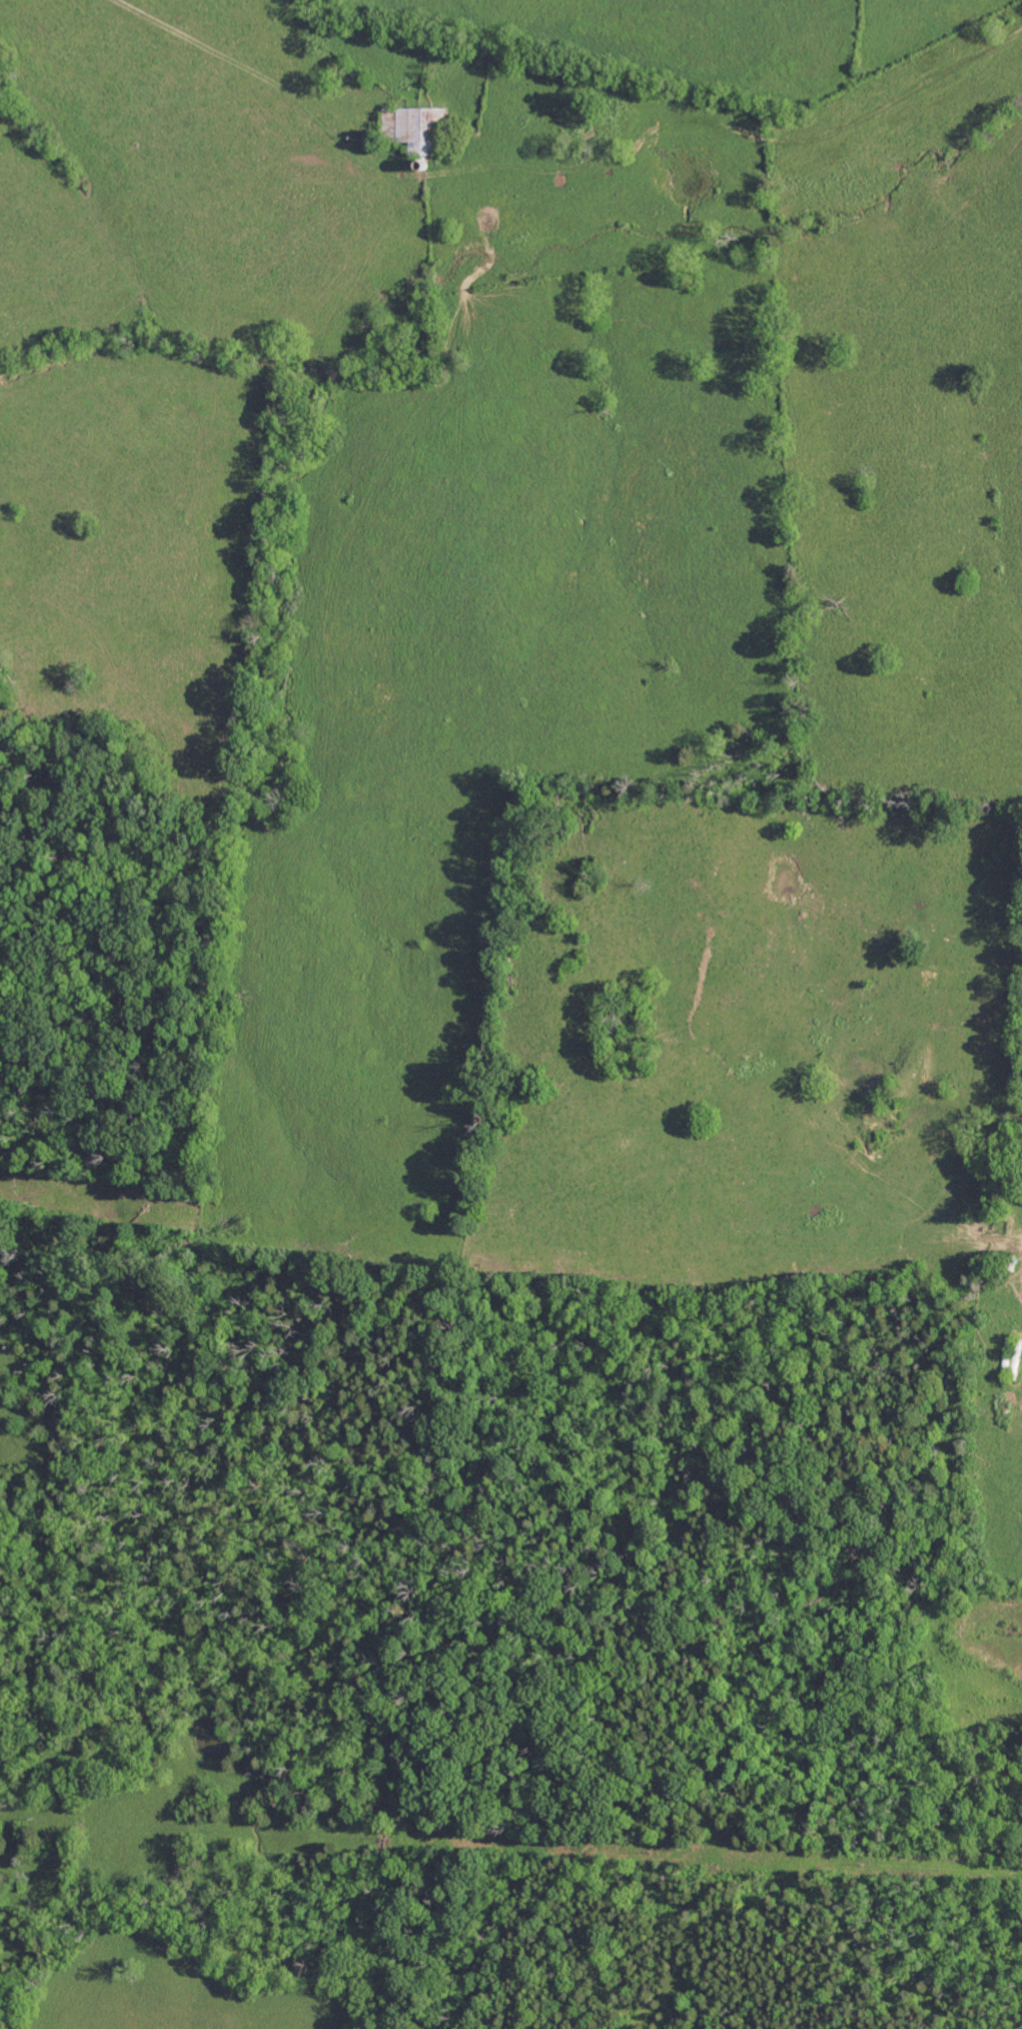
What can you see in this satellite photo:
road: (217, 51)
building: (414, 124)

